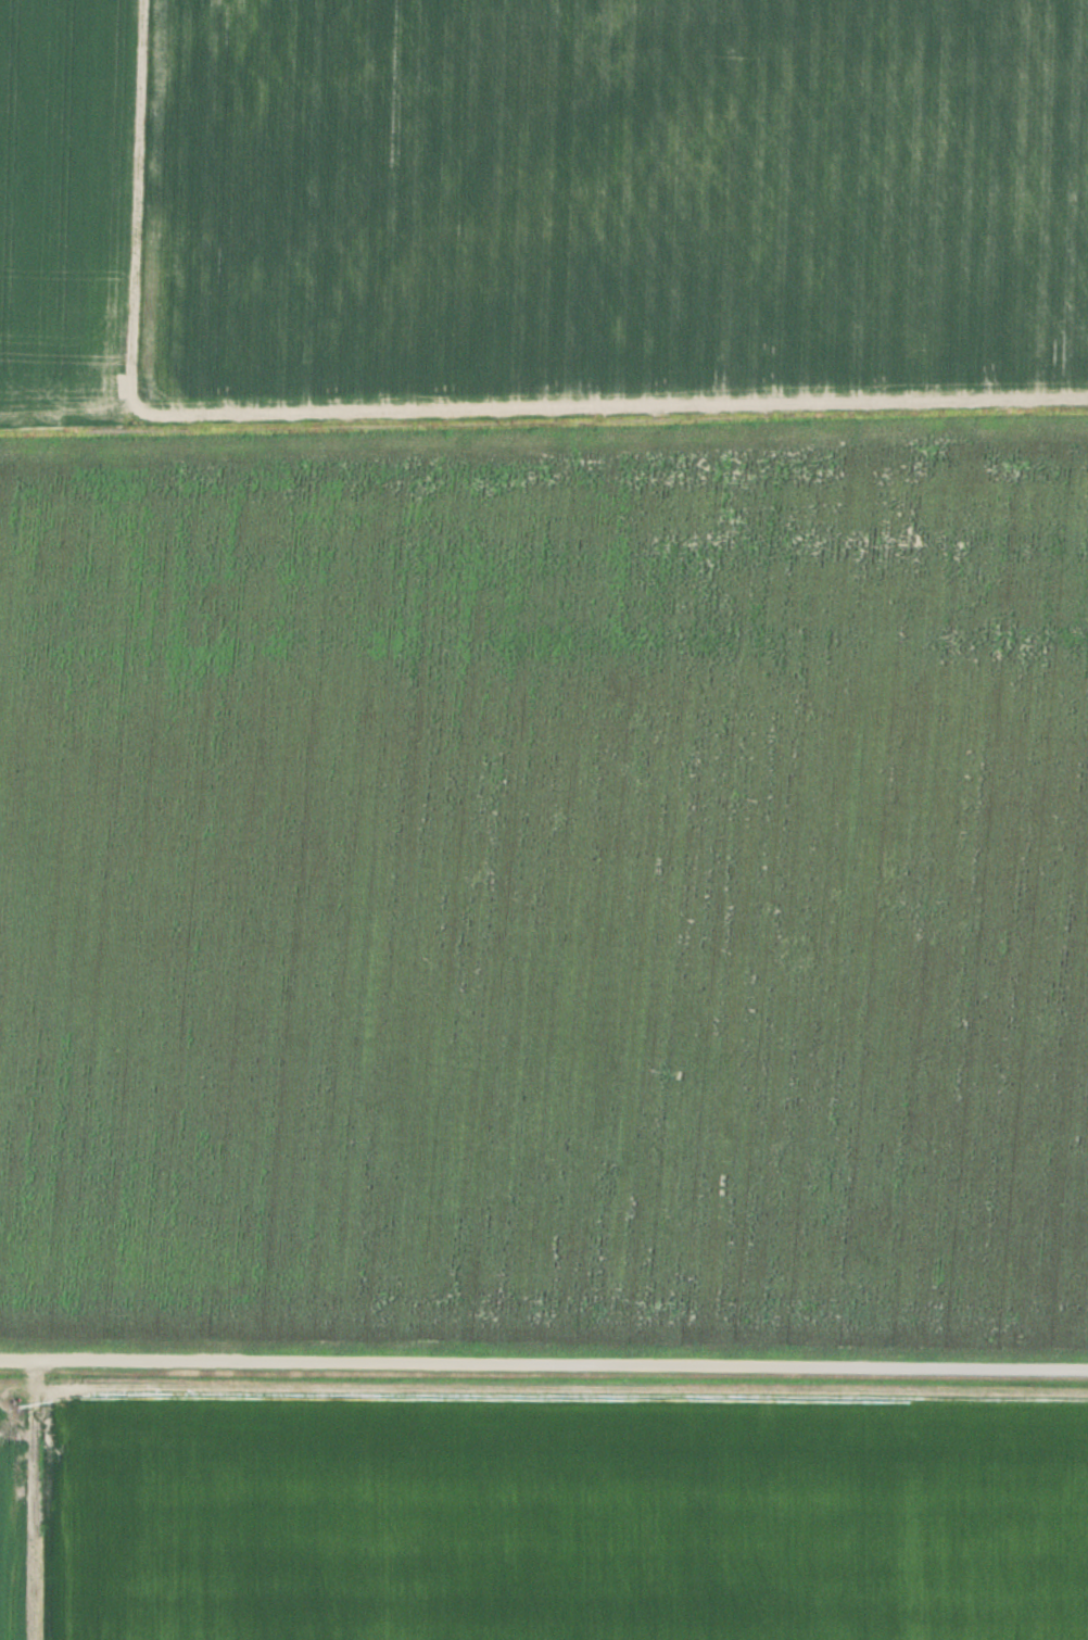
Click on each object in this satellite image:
road: (544, 1361)

